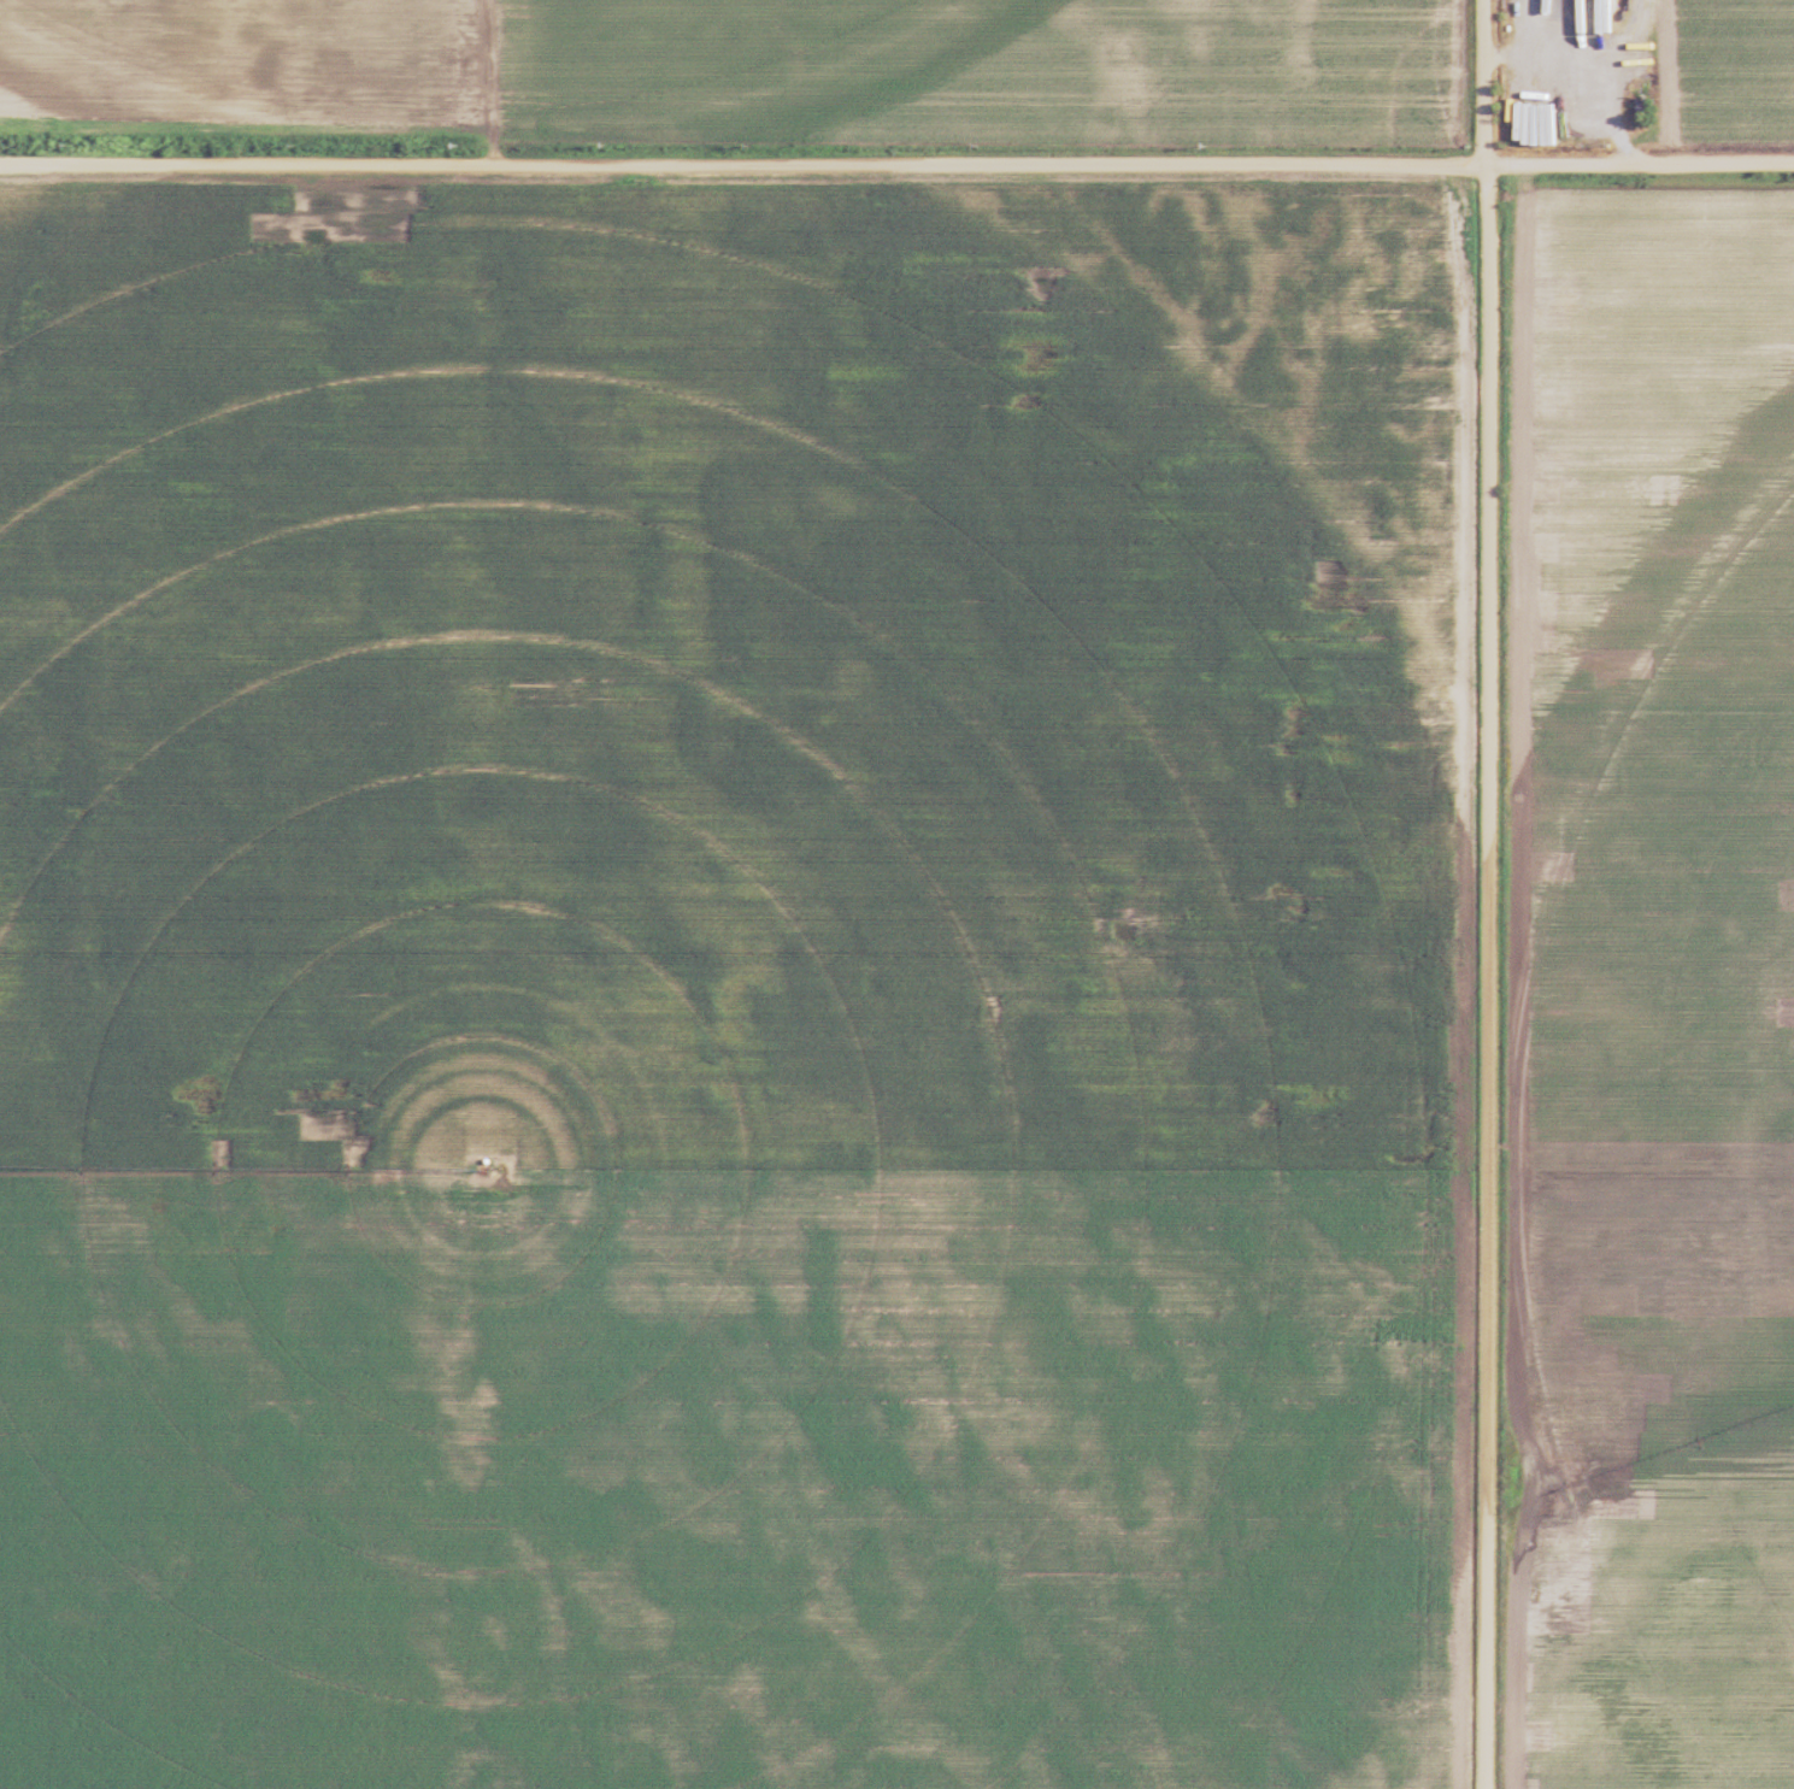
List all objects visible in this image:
building: (1525, 114)
road: (896, 161)
building: (1422, 230)
building: (1407, 294)
road: (1492, 894)

